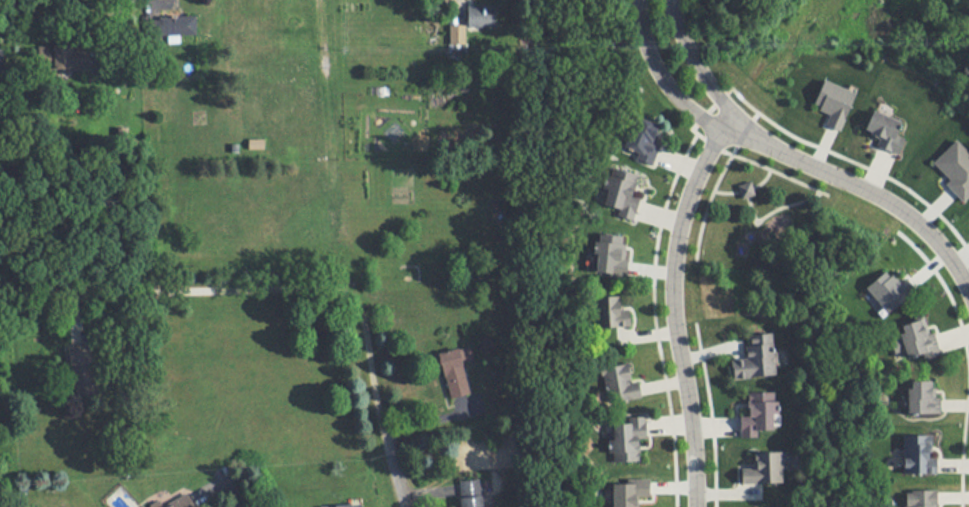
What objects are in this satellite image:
road: (453, 12)
building: (482, 15)
building: (183, 24)
road: (116, 28)
building: (71, 57)
building: (1, 60)
road: (696, 65)
road: (662, 80)
building: (888, 132)
building: (645, 139)
building: (257, 145)
road: (863, 188)
building: (622, 193)
road: (116, 290)
road: (336, 290)
road: (675, 310)
building: (613, 313)
building: (920, 339)
building: (757, 357)
building: (82, 370)
building: (455, 373)
building: (620, 382)
building: (924, 395)
building: (761, 412)
building: (629, 437)
building: (920, 452)
road: (392, 464)
building: (764, 466)
road: (233, 491)
building: (472, 492)
building: (924, 497)
building: (182, 501)
building: (342, 504)
building: (771, 506)

